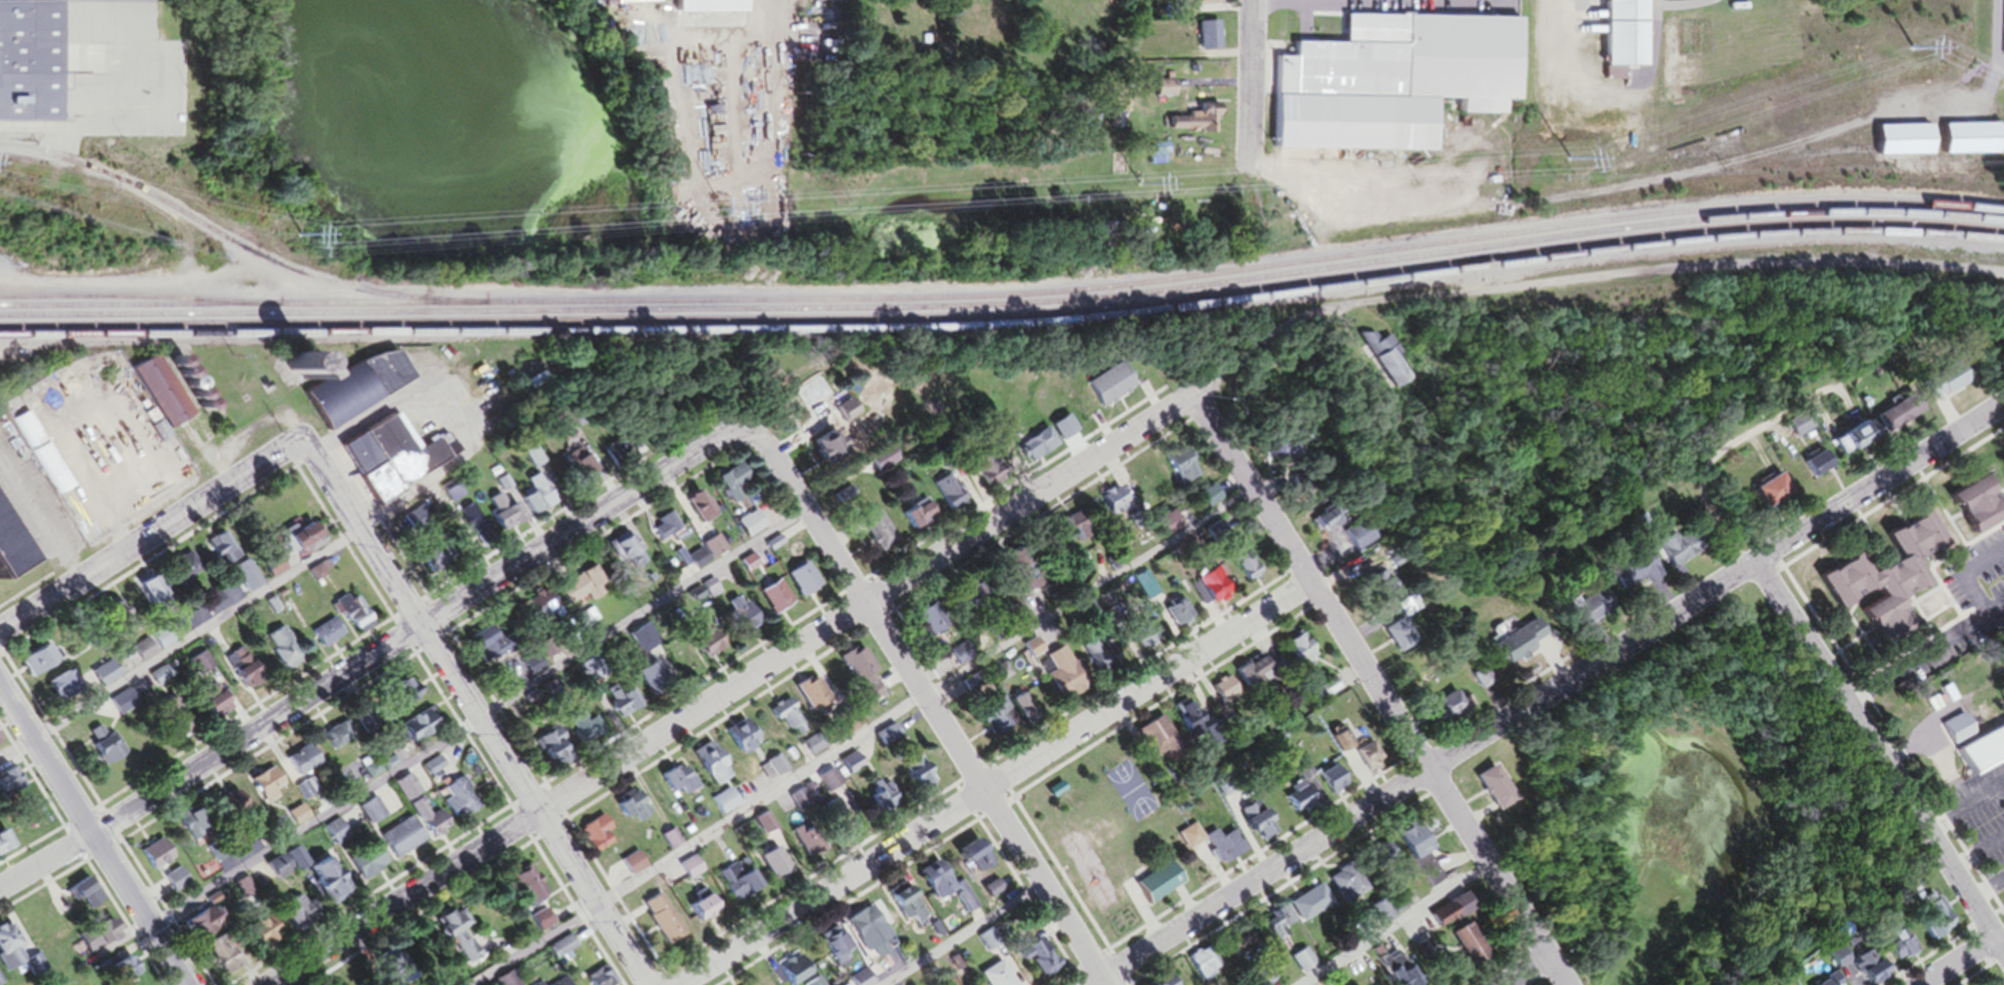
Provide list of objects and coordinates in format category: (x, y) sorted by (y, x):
building: (834, 1)
building: (641, 3)
building: (1201, 4)
building: (717, 8)
road: (777, 28)
building: (1202, 40)
building: (1618, 40)
power tower: (1906, 52)
building: (32, 64)
building: (1381, 82)
road: (1250, 86)
building: (1155, 92)
building: (1186, 123)
building: (1965, 143)
building: (1900, 144)
building: (1154, 159)
power tower: (1563, 163)
power tower: (1573, 185)
power tower: (1139, 190)
power tower: (1265, 194)
power tower: (1071, 206)
power tower: (717, 214)
power tower: (298, 240)
power tower: (309, 258)
power tower: (223, 261)
road: (1662, 272)
railway: (1004, 300)
railway: (139, 303)
railway: (1004, 310)
railway: (1004, 320)
railway: (1004, 329)
road: (1254, 345)
building: (1941, 384)
building: (1104, 389)
building: (366, 390)
building: (165, 396)
building: (1893, 417)
building: (1796, 429)
building: (1852, 444)
building: (1279, 447)
building: (1032, 448)
building: (817, 451)
building: (44, 457)
building: (617, 459)
building: (396, 461)
building: (875, 463)
building: (582, 469)
building: (1814, 469)
building: (981, 475)
building: (1181, 475)
building: (736, 486)
building: (453, 494)
building: (1770, 494)
building: (943, 498)
building: (1207, 501)
building: (539, 502)
building: (1112, 506)
building: (1970, 509)
building: (702, 511)
building: (507, 517)
building: (910, 518)
building: (475, 528)
building: (756, 528)
building: (1159, 529)
building: (1320, 529)
building: (667, 531)
building: (1057, 531)
building: (423, 533)
building: (873, 533)
road: (150, 534)
building: (311, 539)
building: (1355, 540)
building: (16, 545)
building: (224, 552)
building: (1666, 553)
building: (628, 557)
building: (1237, 565)
building: (188, 572)
building: (1629, 577)
building: (1883, 578)
building: (1016, 579)
building: (799, 583)
building: (1373, 588)
building: (584, 589)
road: (1972, 589)
building: (1140, 590)
building: (1203, 592)
building: (155, 596)
building: (770, 601)
building: (973, 602)
building: (1583, 611)
building: (546, 612)
building: (1172, 616)
building: (359, 618)
building: (734, 618)
building: (1012, 619)
road: (1998, 621)
building: (929, 623)
road: (190, 635)
building: (330, 636)
building: (1138, 639)
building: (1395, 639)
building: (1516, 645)
building: (500, 647)
building: (698, 649)
building: (286, 652)
building: (145, 653)
building: (1029, 653)
building: (1293, 653)
road: (369, 658)
building: (1092, 662)
building: (44, 663)
building: (537, 668)
road: (1922, 668)
building: (202, 669)
building: (108, 676)
building: (999, 676)
building: (1251, 678)
building: (855, 680)
building: (1059, 680)
building: (649, 681)
road: (1380, 688)
building: (68, 690)
road: (731, 690)
building: (1324, 692)
road: (1548, 694)
building: (409, 695)
building: (806, 696)
building: (1222, 696)
road: (930, 702)
building: (218, 703)
building: (125, 706)
road: (477, 712)
building: (1444, 713)
building: (365, 718)
building: (1000, 718)
building: (782, 720)
building: (1182, 726)
road: (485, 727)
building: (844, 727)
building: (424, 729)
building: (578, 731)
road: (865, 735)
building: (1955, 736)
building: (339, 739)
building: (734, 741)
building: (1149, 742)
building: (0, 743)
building: (1340, 744)
building: (809, 748)
building: (547, 753)
building: (1979, 754)
building: (110, 755)
road: (1881, 757)
building: (1366, 763)
building: (305, 764)
building: (706, 768)
building: (437, 769)
building: (849, 769)
building: (769, 771)
building: (914, 779)
road: (996, 783)
building: (825, 784)
building: (672, 785)
building: (11, 786)
building: (1330, 786)
building: (271, 787)
building: (409, 791)
building: (1488, 793)
building: (461, 803)
building: (878, 803)
building: (721, 806)
building: (1295, 807)
building: (235, 810)
park: (1704, 810)
building: (628, 811)
road: (1967, 813)
building: (374, 814)
building: (430, 821)
building: (1248, 824)
building: (203, 827)
building: (840, 828)
park: (1082, 832)
road: (94, 834)
building: (589, 834)
building: (405, 841)
building: (1184, 841)
building: (6, 847)
building: (1217, 850)
building: (1415, 856)
road: (1978, 856)
building: (160, 858)
building: (967, 859)
building: (1376, 860)
building: (371, 864)
building: (769, 864)
building: (288, 867)
building: (629, 867)
building: (178, 883)
building: (332, 884)
building: (731, 885)
building: (1342, 885)
building: (930, 886)
building: (518, 888)
building: (1150, 888)
road: (1988, 892)
building: (89, 898)
building: (1306, 907)
building: (904, 910)
building: (695, 912)
building: (1376, 916)
building: (301, 917)
building: (1442, 918)
building: (656, 923)
building: (536, 925)
building: (862, 926)
building: (1274, 926)
road: (1401, 926)
building: (1929, 931)
building: (199, 932)
building: (269, 934)
road: (971, 936)
building: (104, 939)
building: (450, 940)
building: (828, 947)
building: (1464, 949)
building: (1895, 949)
building: (226, 955)
building: (560, 955)
building: (18, 958)
building: (1032, 962)
road: (1957, 962)
building: (1299, 964)
building: (1202, 968)
building: (386, 971)
road: (1527, 971)
building: (129, 974)
building: (1260, 975)
building: (792, 976)
building: (990, 977)
building: (1387, 978)
building: (595, 979)
building: (502, 981)
building: (1161, 982)
building: (0, 983)
building: (1828, 983)

